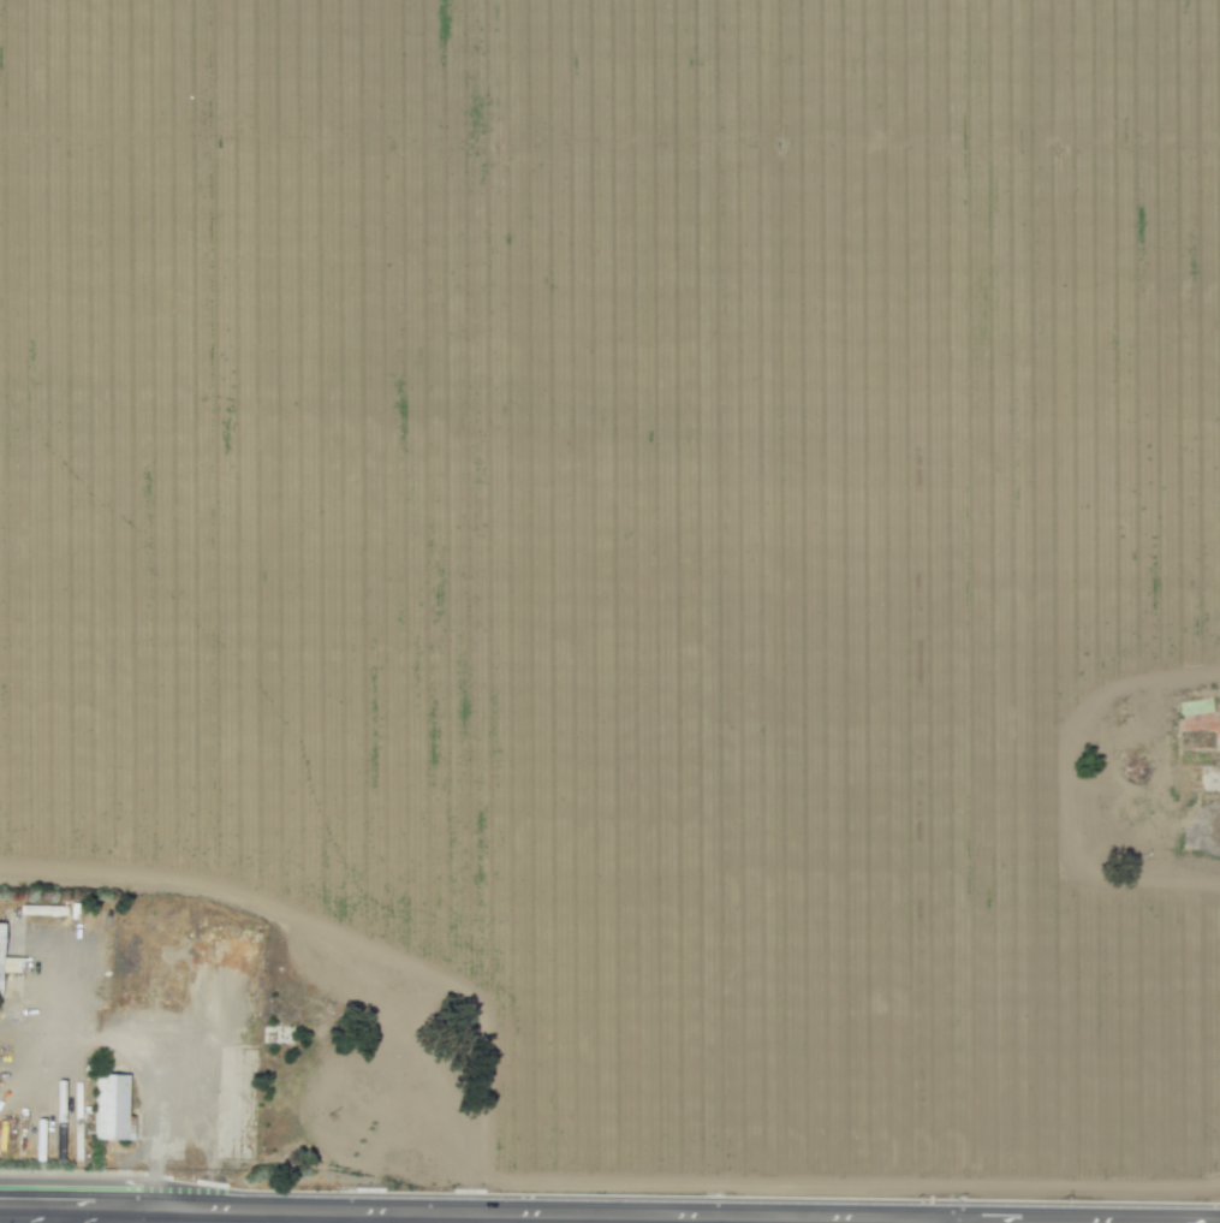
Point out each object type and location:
crop: (636, 534)
building: (1195, 748)
road: (1206, 826)
building: (42, 909)
building: (0, 922)
building: (8, 964)
building: (111, 1108)
road: (480, 1129)
road: (48, 1213)
road: (609, 1213)
road: (212, 1215)
road: (361, 1217)
road: (453, 1217)
road: (397, 1218)
road: (490, 1218)
road: (605, 1218)
road: (696, 1219)
road: (957, 1221)
road: (1099, 1222)

